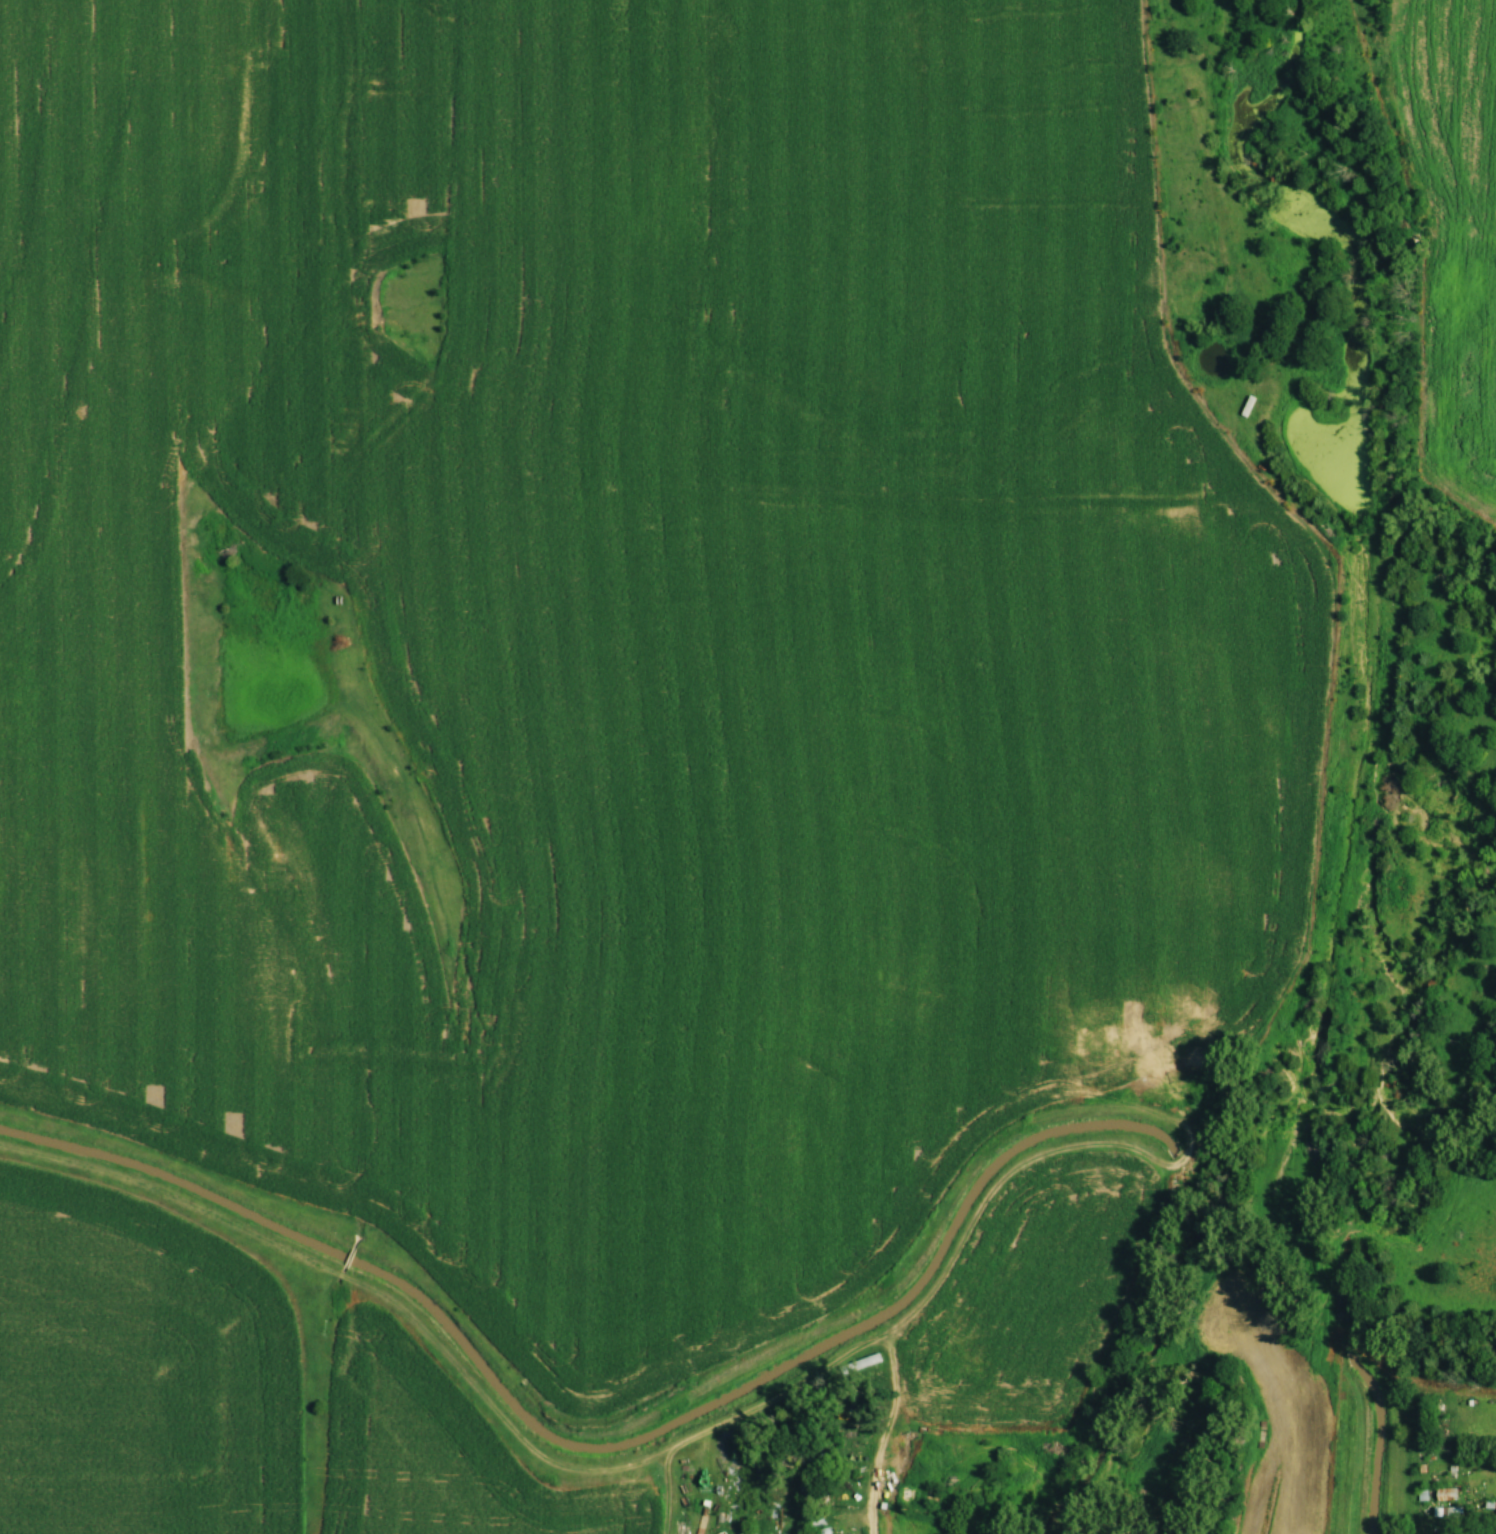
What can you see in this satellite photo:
building: (1443, 1493)

